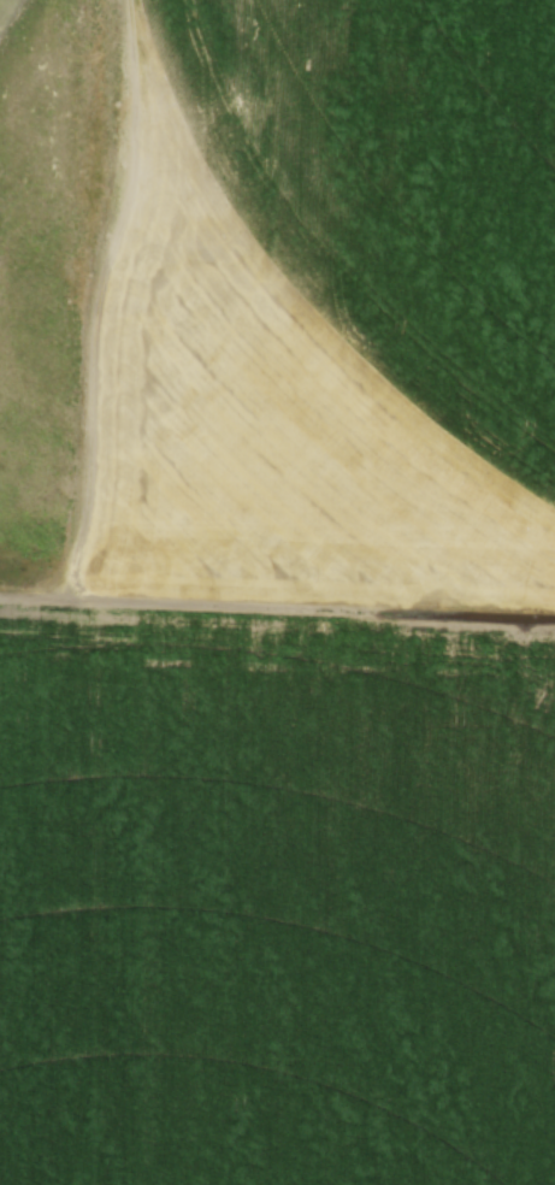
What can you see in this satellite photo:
crop: (5, 7)
crop: (268, 801)

